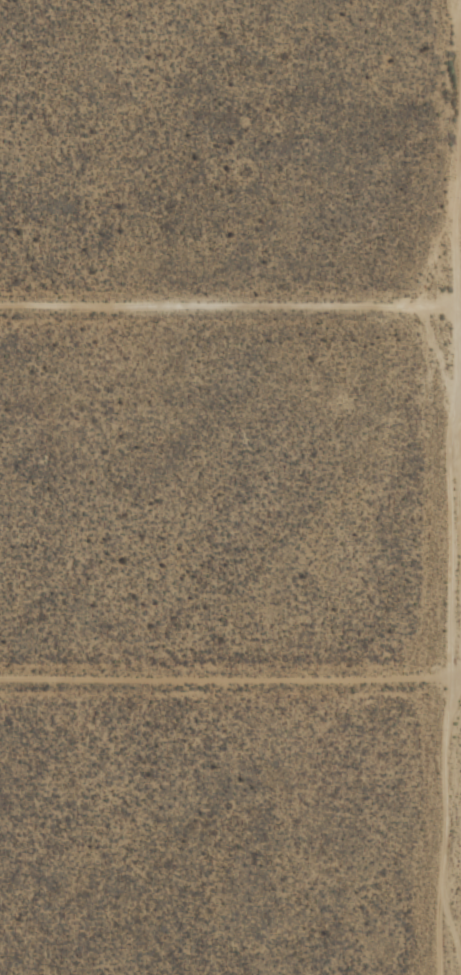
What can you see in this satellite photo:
road: (230, 305)
road: (230, 678)

